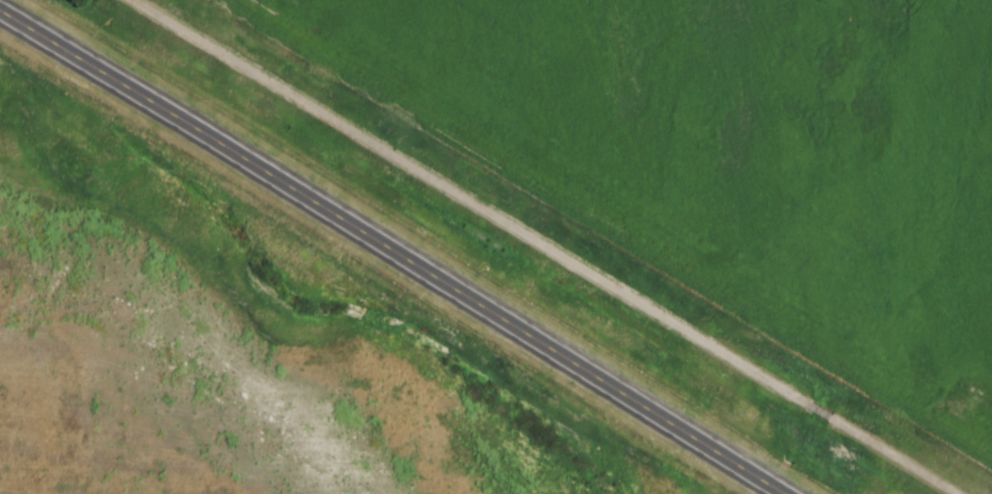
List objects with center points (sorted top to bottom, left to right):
road: (396, 247)
road: (550, 247)

